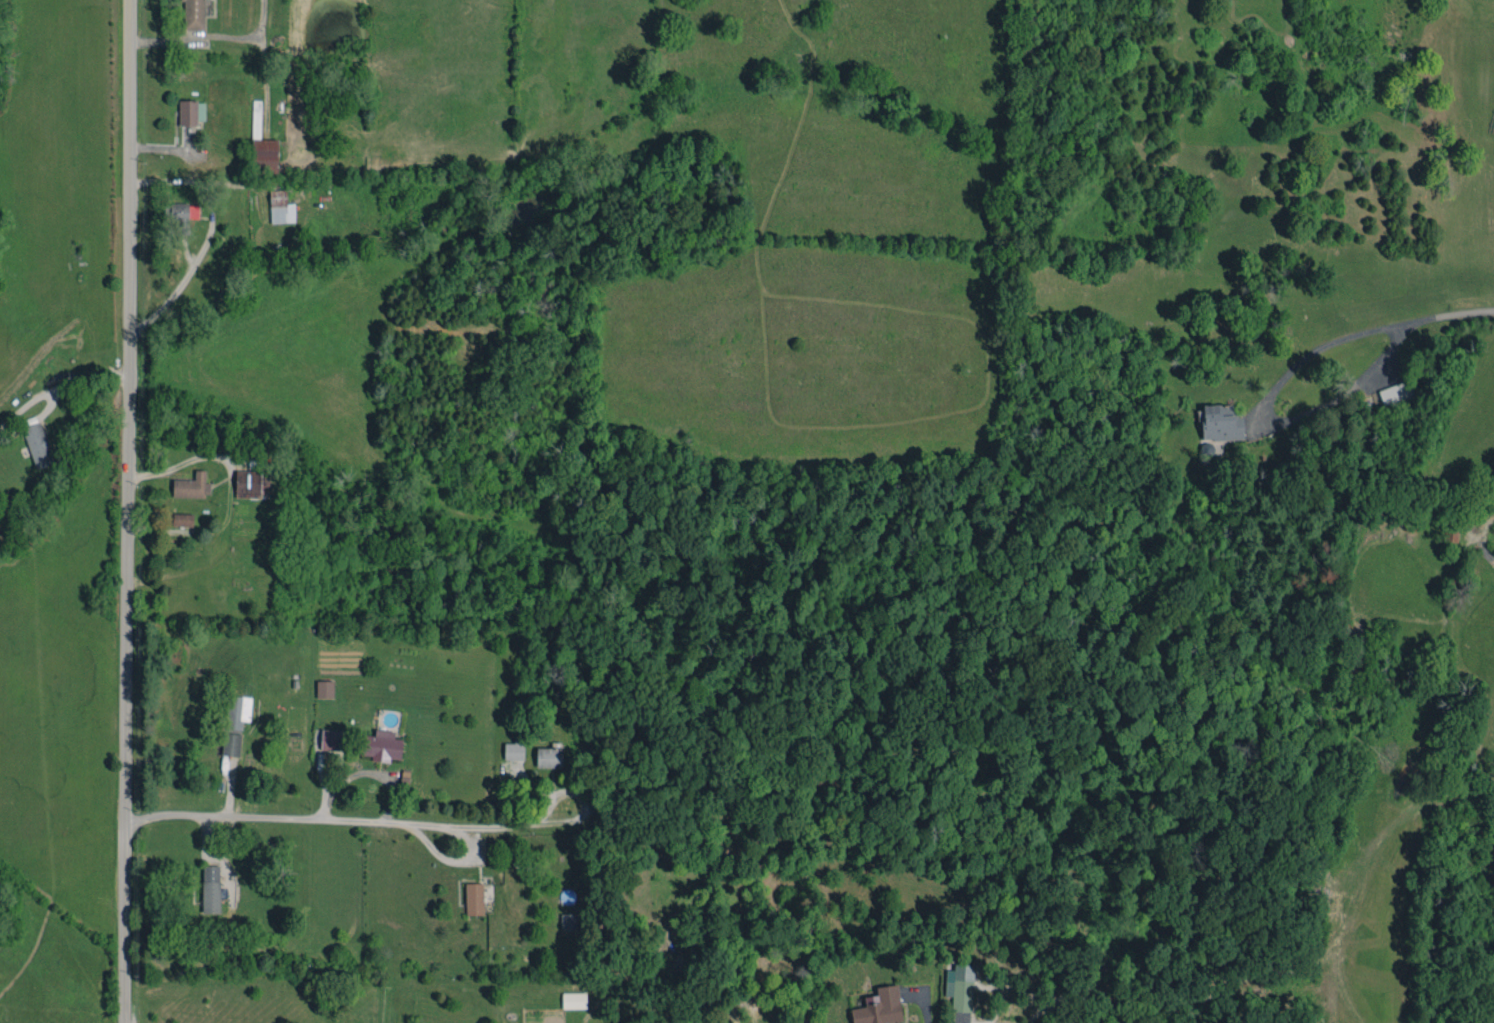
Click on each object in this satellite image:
building: (194, 14)
road: (249, 38)
building: (191, 112)
building: (264, 154)
building: (281, 207)
building: (181, 215)
road: (207, 237)
road: (1457, 312)
building: (1397, 394)
road: (1266, 416)
building: (1221, 422)
building: (37, 444)
building: (251, 483)
building: (192, 486)
road: (230, 489)
road: (129, 511)
building: (182, 519)
building: (1451, 530)
building: (325, 688)
building: (237, 711)
building: (332, 739)
building: (231, 744)
building: (381, 745)
building: (514, 749)
building: (548, 757)
road: (363, 771)
road: (332, 819)
building: (210, 889)
building: (474, 898)
building: (960, 987)
building: (574, 1000)
building: (879, 1007)
road: (924, 1012)

